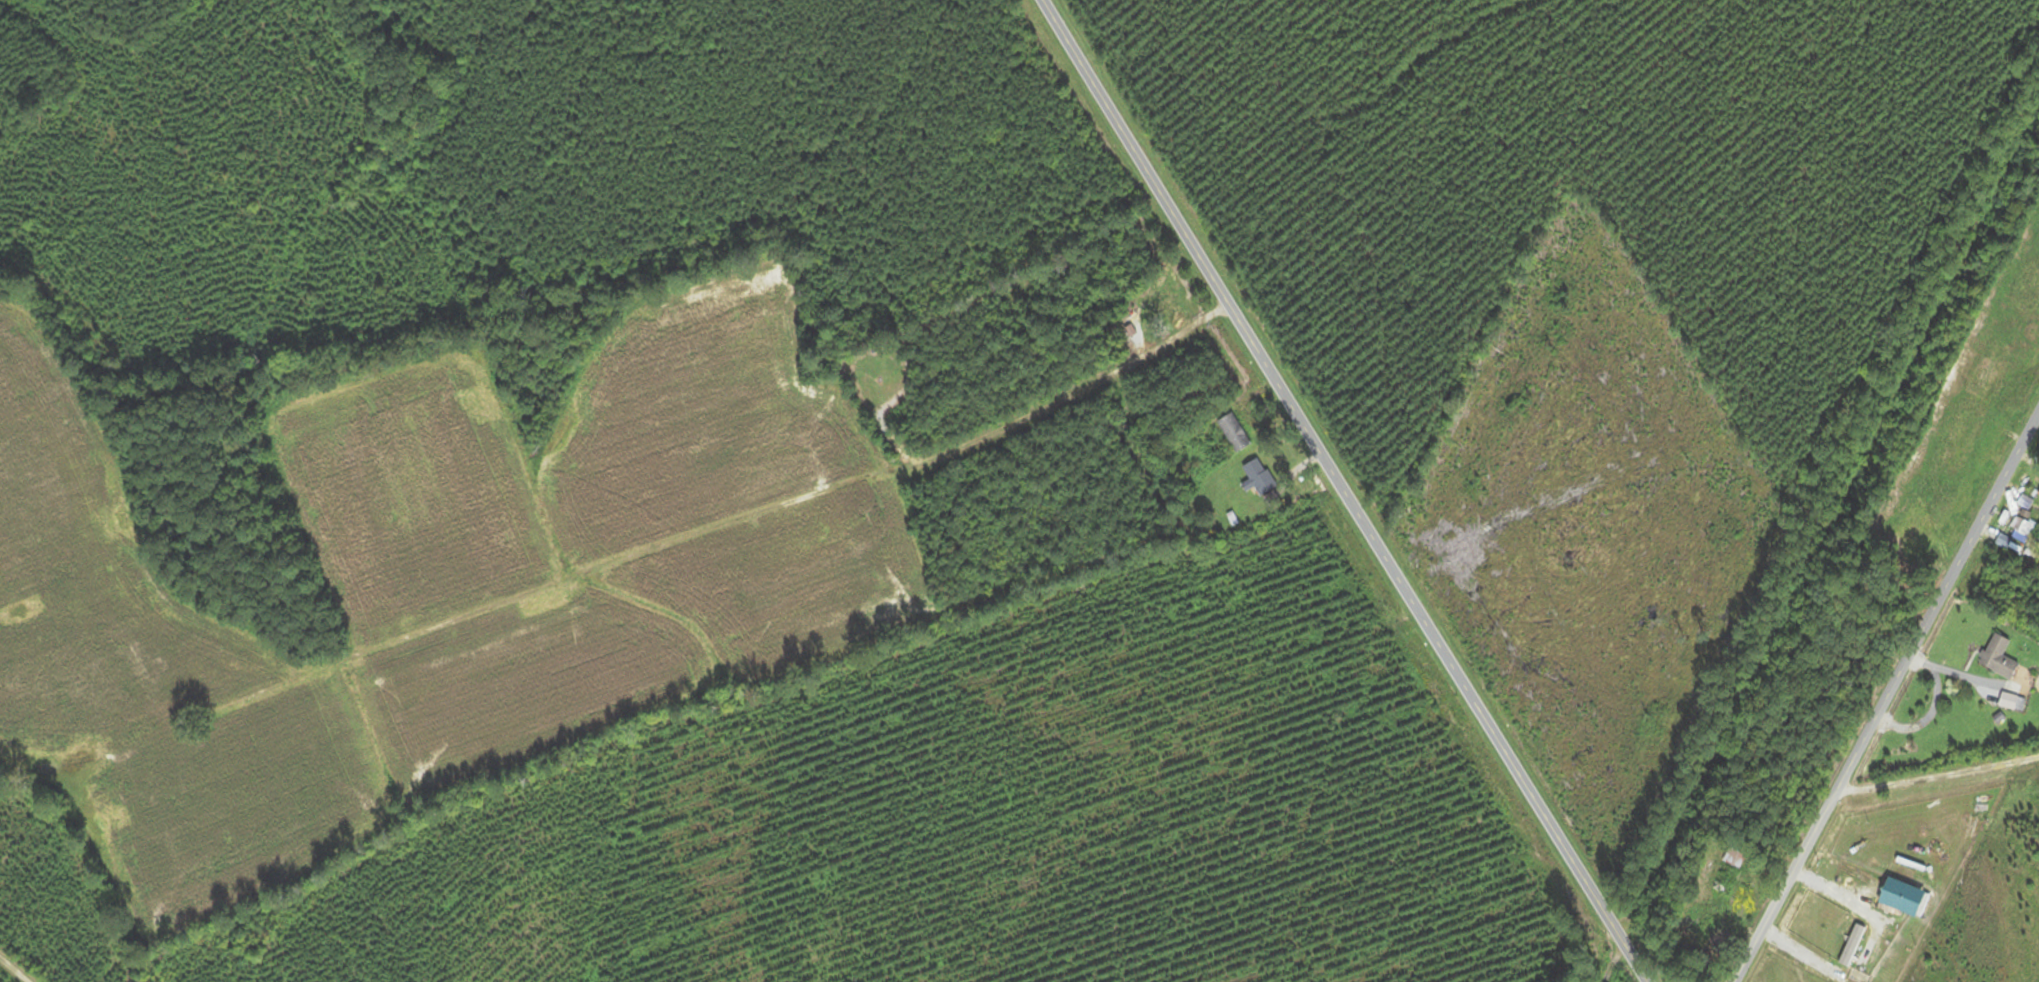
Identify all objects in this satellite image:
building: (1163, 304)
road: (1187, 327)
building: (1236, 432)
building: (1262, 477)
road: (1342, 493)
building: (2026, 502)
building: (2023, 529)
building: (2001, 656)
road: (1888, 696)
building: (2014, 701)
road: (1938, 775)
building: (1728, 872)
road: (17, 967)

